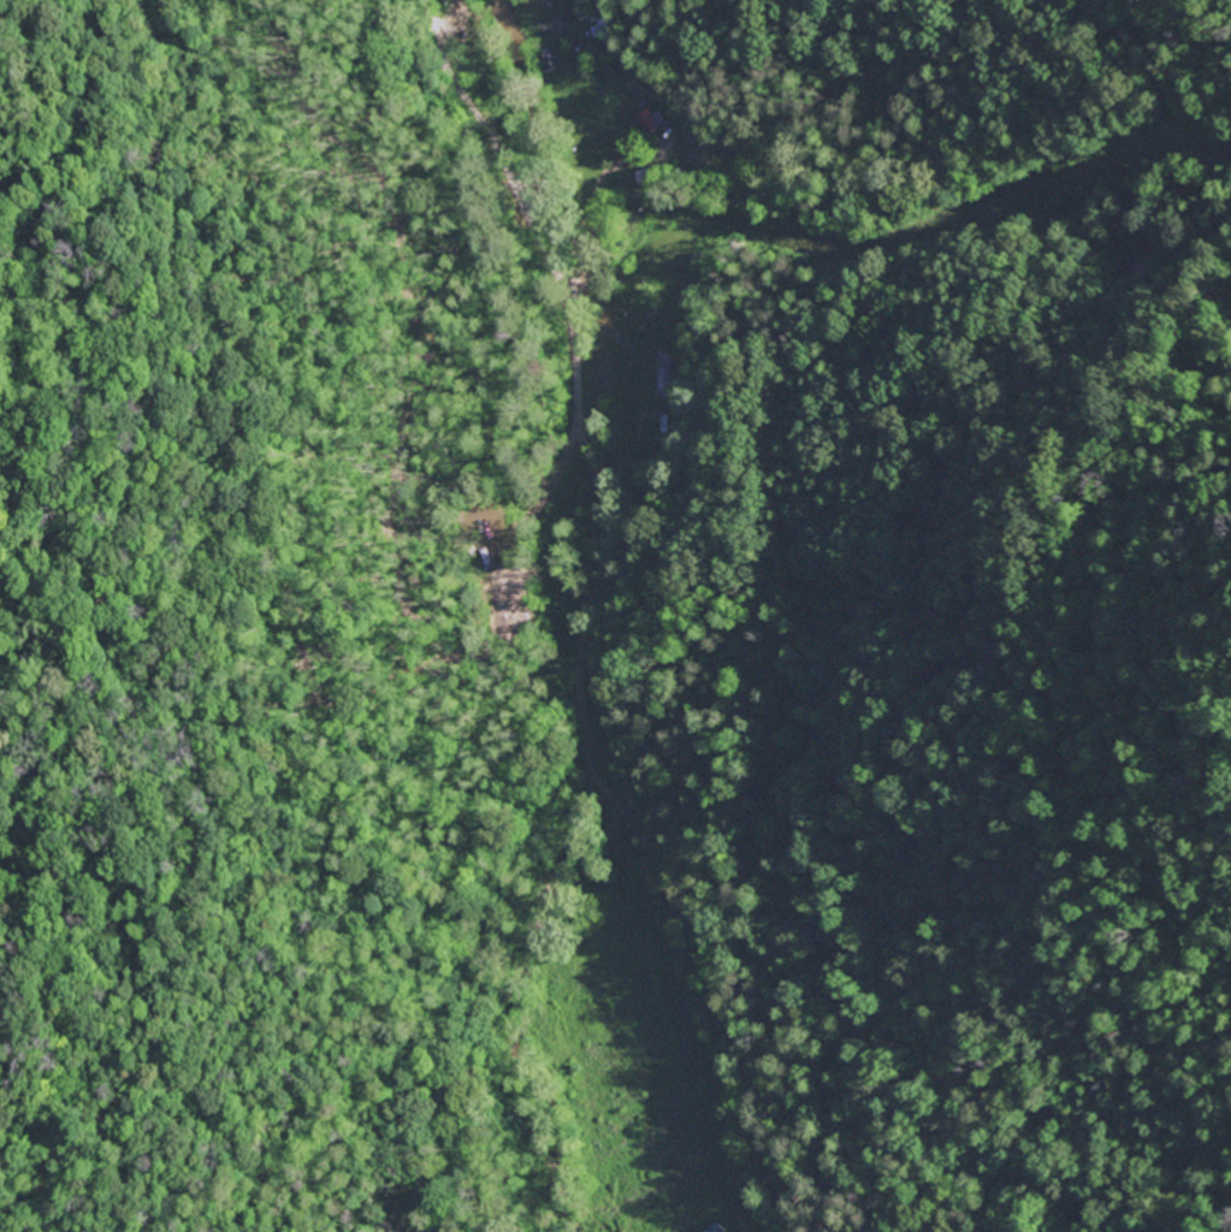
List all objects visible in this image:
building: (653, 123)
road: (587, 621)
building: (720, 1228)

